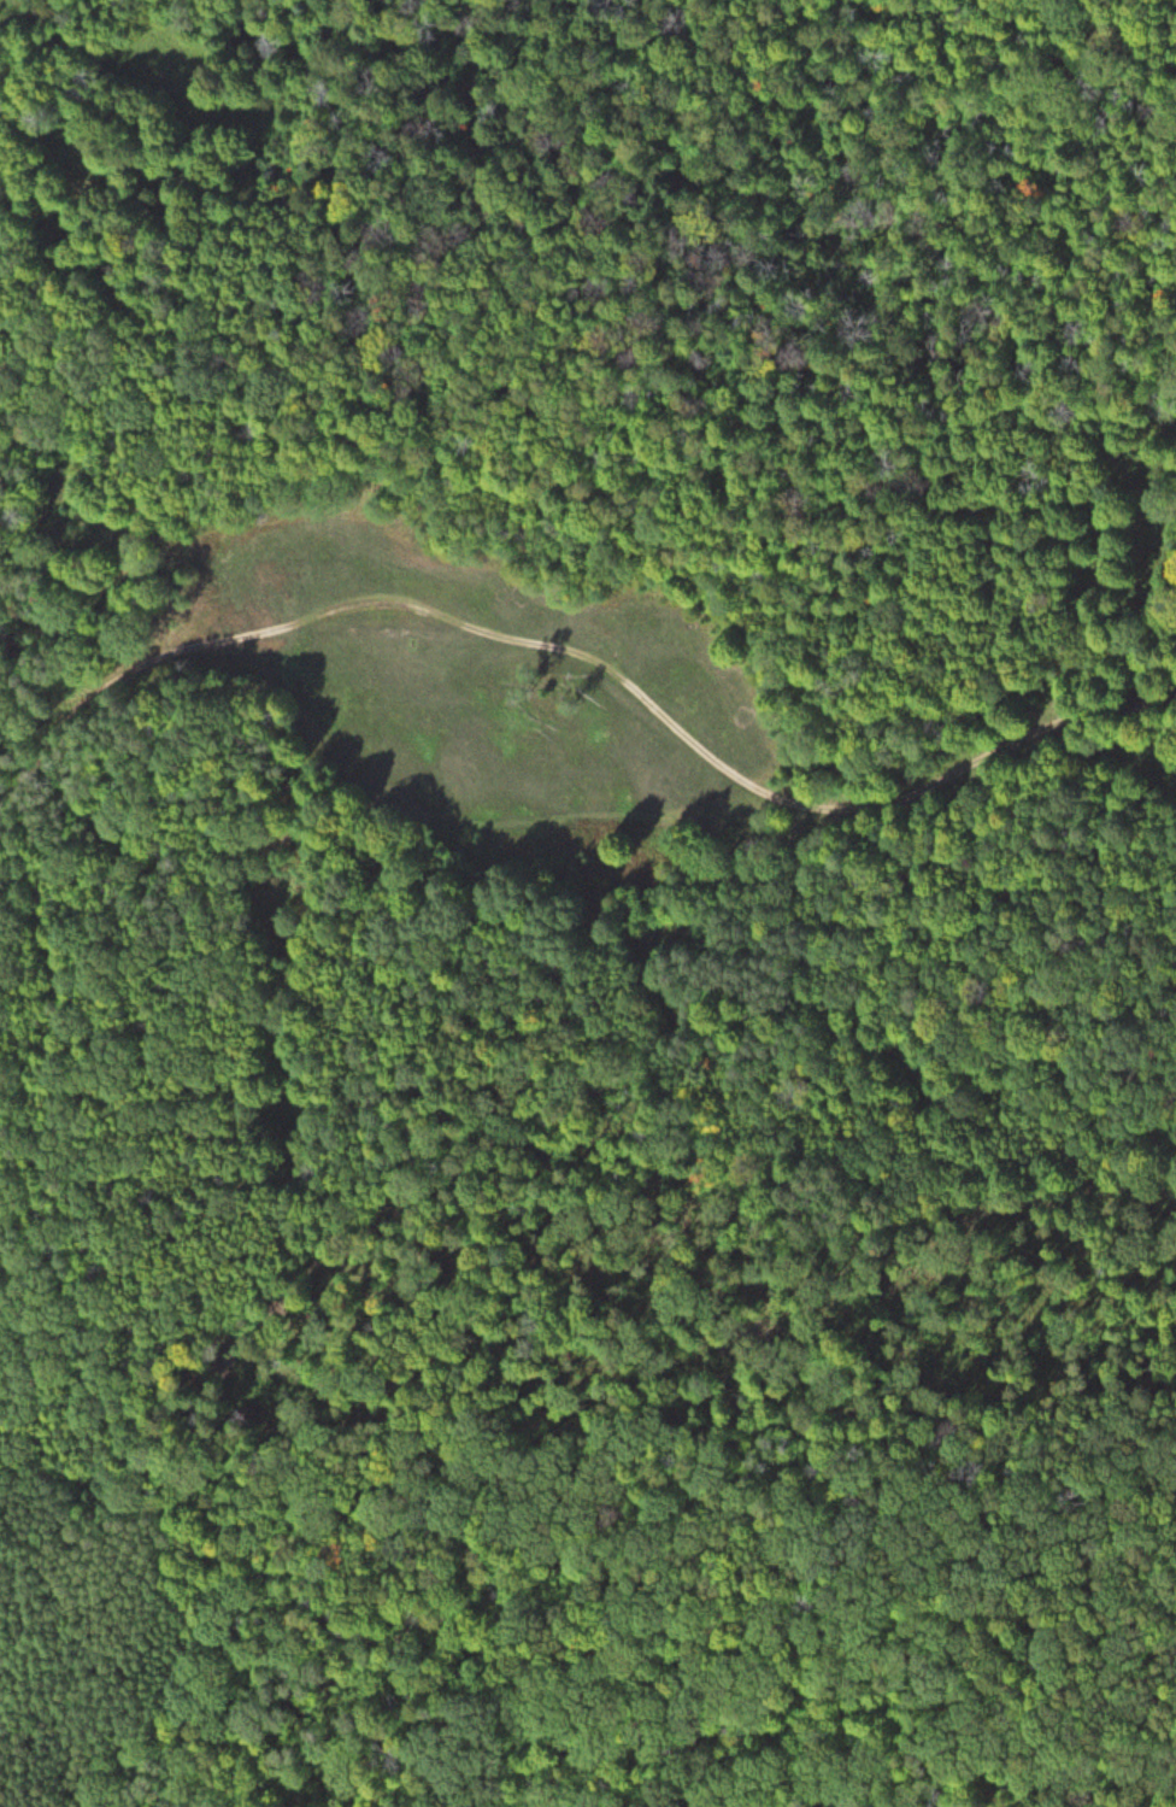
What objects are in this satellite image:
road: (587, 665)
road: (576, 1432)

